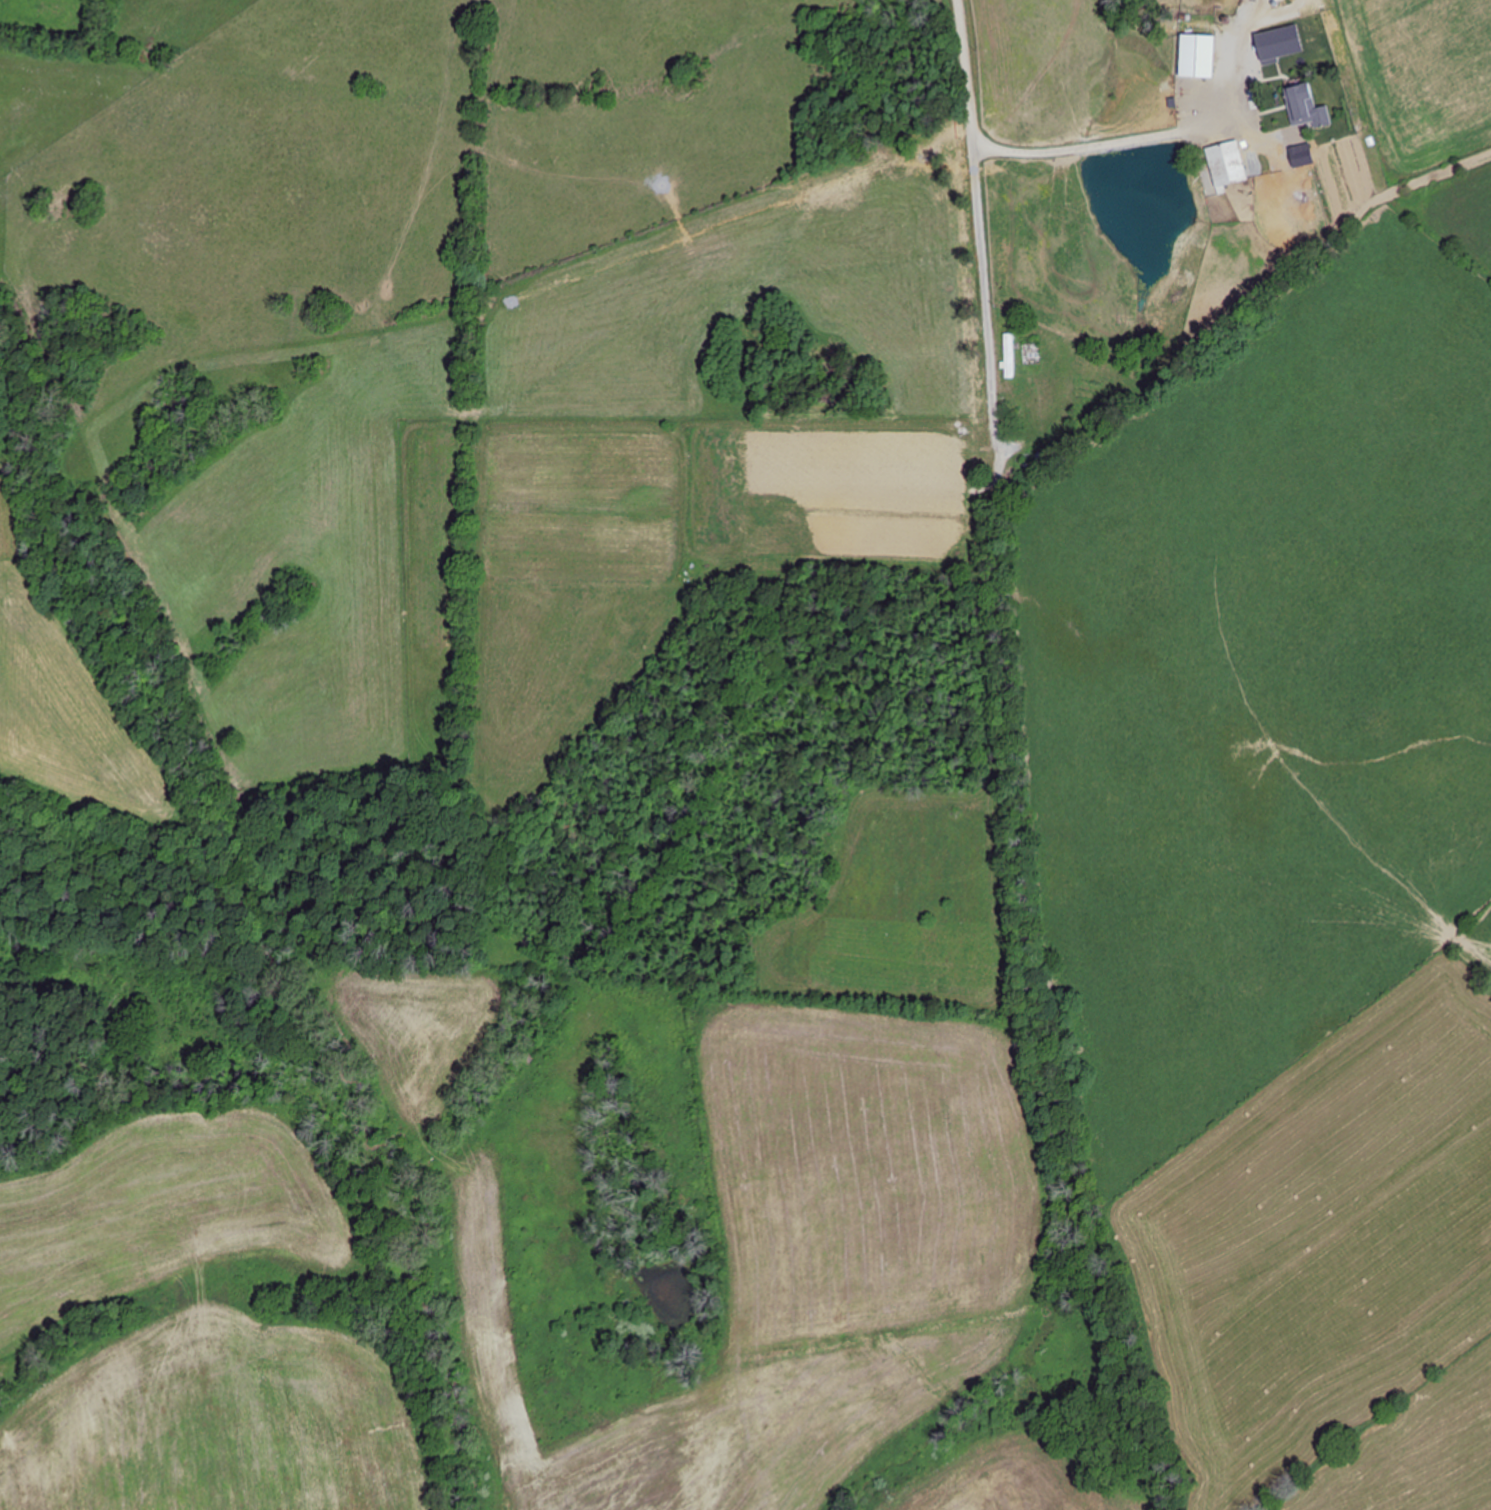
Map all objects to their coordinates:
building: (1201, 56)
building: (1308, 107)
building: (1229, 164)
road: (977, 216)
building: (1012, 355)

